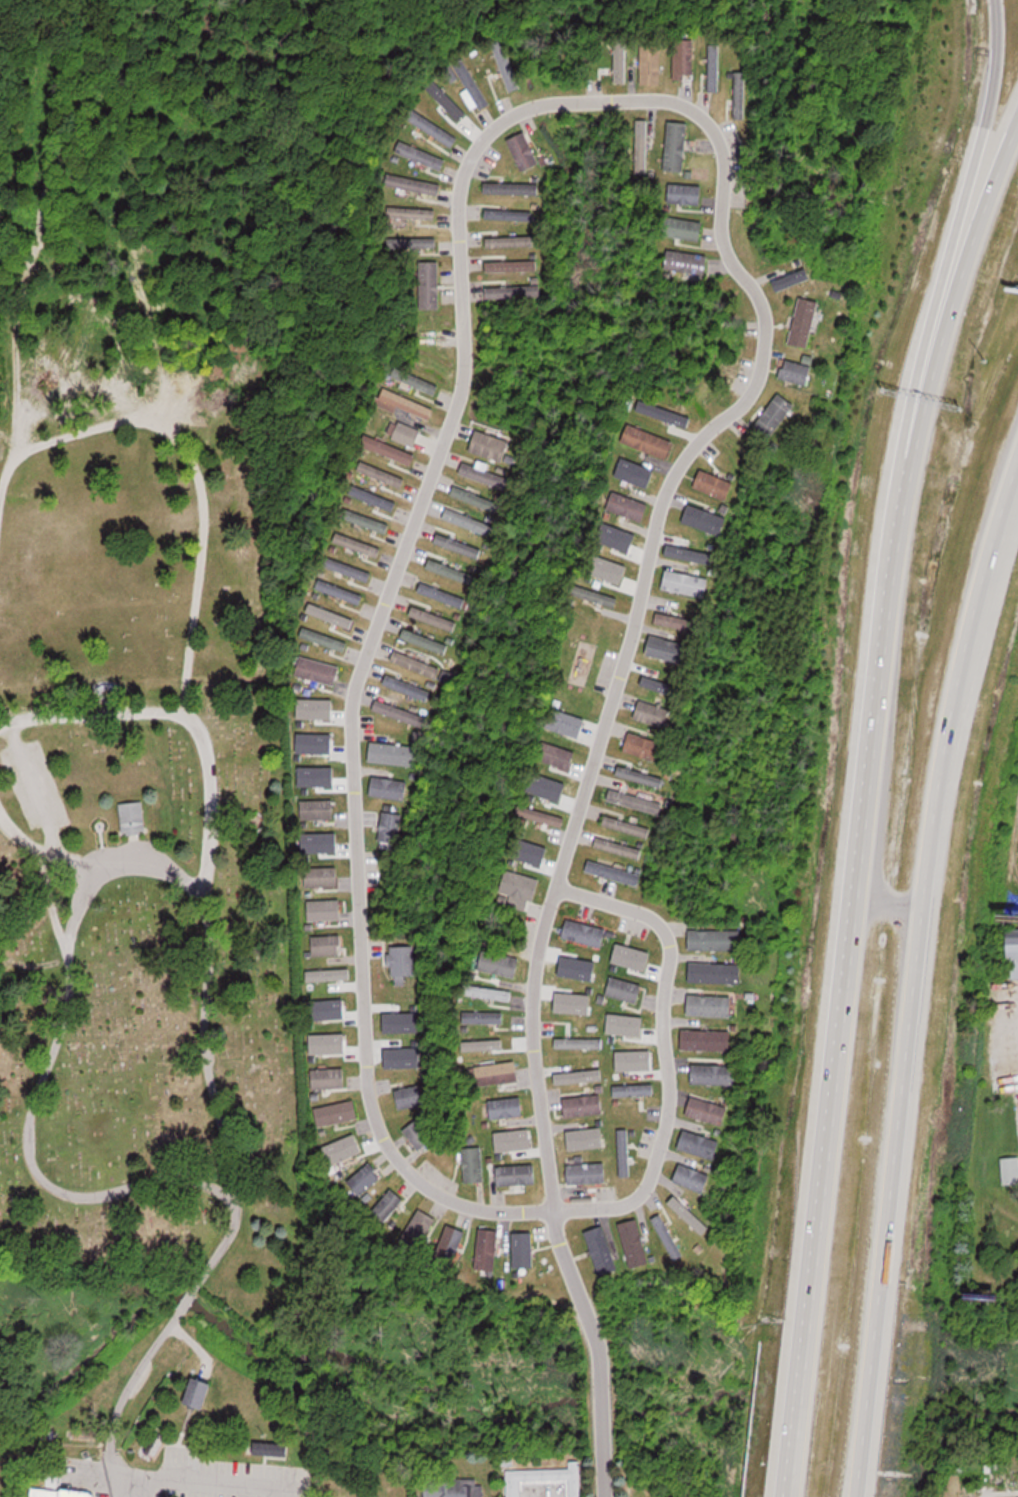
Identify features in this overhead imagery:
building: (684, 59)
building: (651, 63)
building: (505, 64)
building: (714, 66)
building: (741, 94)
road: (991, 95)
building: (470, 97)
road: (557, 104)
building: (432, 127)
building: (677, 145)
building: (524, 150)
building: (421, 154)
building: (413, 183)
building: (511, 187)
building: (685, 192)
building: (412, 211)
building: (508, 214)
building: (683, 227)
building: (511, 240)
building: (412, 241)
building: (687, 261)
building: (512, 264)
building: (430, 284)
building: (513, 291)
building: (804, 321)
building: (796, 371)
building: (415, 381)
building: (403, 403)
building: (776, 414)
building: (404, 432)
building: (648, 440)
building: (490, 444)
building: (388, 448)
building: (381, 474)
building: (484, 475)
building: (713, 483)
building: (373, 497)
building: (475, 498)
building: (628, 505)
building: (705, 518)
building: (365, 519)
building: (468, 521)
building: (358, 543)
building: (458, 545)
road: (201, 558)
building: (348, 568)
building: (450, 570)
building: (443, 594)
building: (594, 594)
building: (434, 617)
building: (678, 621)
building: (324, 637)
building: (425, 640)
building: (420, 664)
building: (318, 669)
building: (407, 687)
building: (653, 712)
road: (96, 713)
building: (400, 713)
building: (643, 745)
building: (393, 753)
building: (640, 776)
road: (34, 785)
parking lot: (36, 785)
building: (389, 787)
road: (862, 795)
building: (635, 800)
building: (318, 809)
building: (133, 816)
building: (627, 825)
building: (390, 827)
building: (618, 847)
road: (40, 850)
road: (95, 868)
building: (608, 870)
building: (322, 876)
building: (520, 888)
park: (148, 895)
road: (50, 905)
building: (326, 909)
building: (585, 932)
building: (714, 939)
building: (327, 944)
building: (1012, 957)
building: (403, 959)
building: (499, 963)
road: (909, 967)
building: (625, 989)
building: (709, 1005)
building: (483, 1016)
building: (706, 1040)
building: (578, 1043)
road: (664, 1049)
building: (497, 1073)
building: (713, 1074)
building: (329, 1078)
building: (633, 1090)
building: (410, 1097)
building: (584, 1106)
building: (506, 1108)
building: (337, 1113)
building: (420, 1135)
building: (698, 1144)
building: (624, 1153)
building: (473, 1164)
building: (1010, 1170)
building: (691, 1178)
building: (366, 1179)
building: (389, 1204)
building: (419, 1230)
building: (668, 1237)
building: (450, 1243)
building: (634, 1243)
building: (488, 1249)
building: (602, 1250)
road: (185, 1299)
road: (197, 1346)
road: (599, 1350)
building: (199, 1393)
road: (121, 1396)
building: (271, 1449)
building: (545, 1478)
road: (206, 1481)
building: (455, 1487)
building: (63, 1493)

